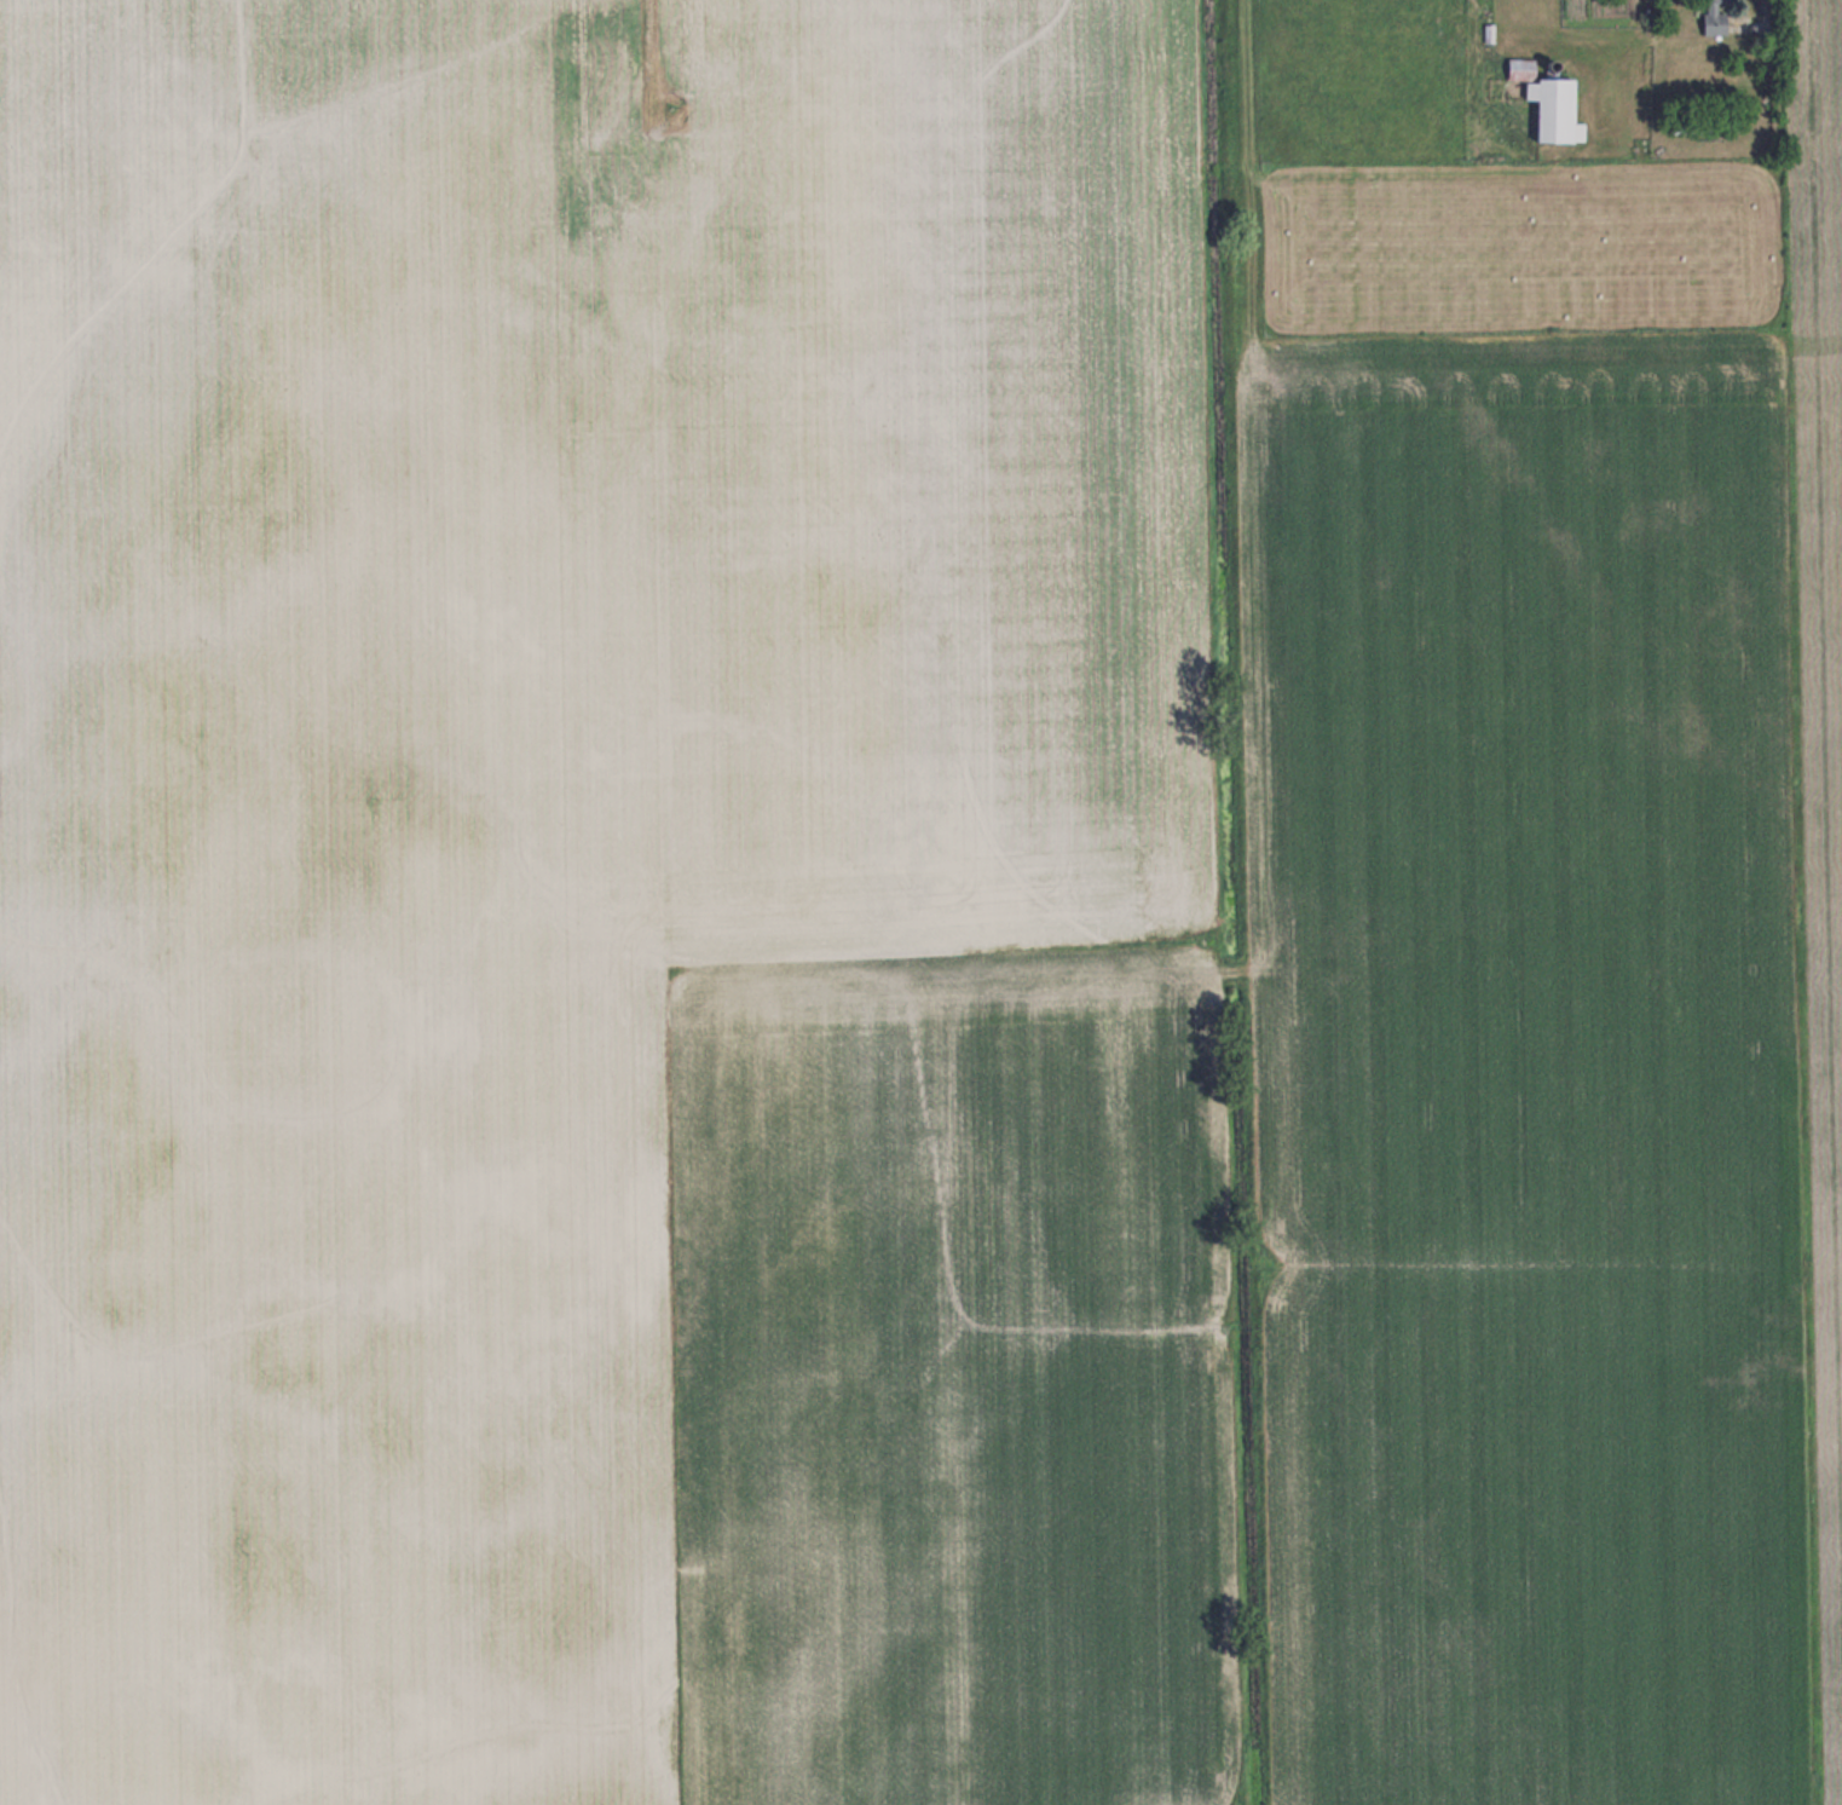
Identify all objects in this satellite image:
building: (1714, 18)
building: (605, 75)
building: (1548, 102)

